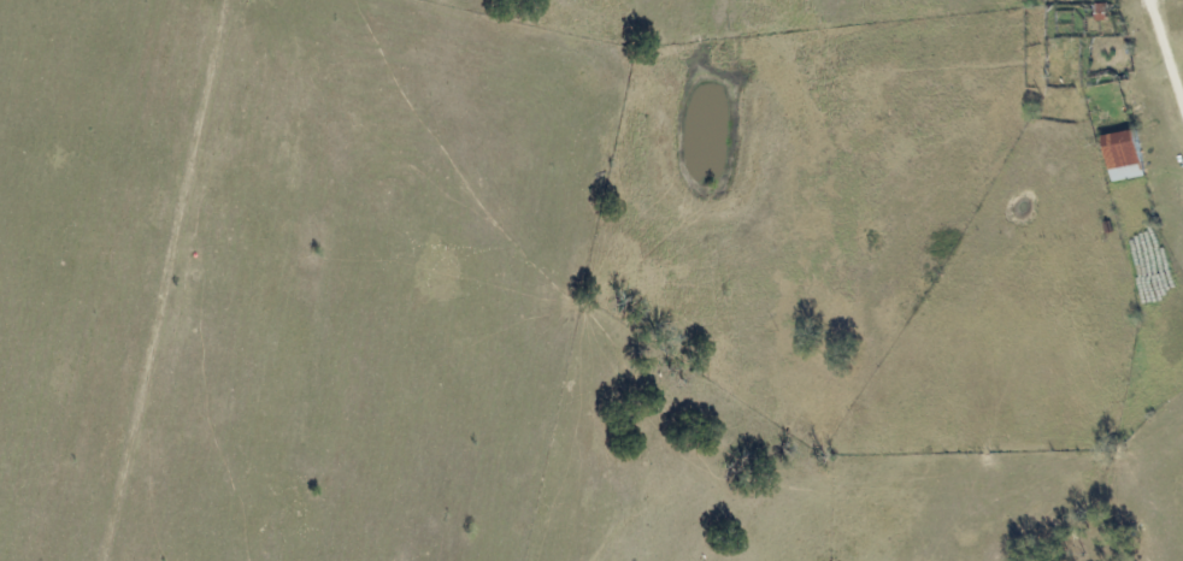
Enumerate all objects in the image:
building: (1124, 157)

